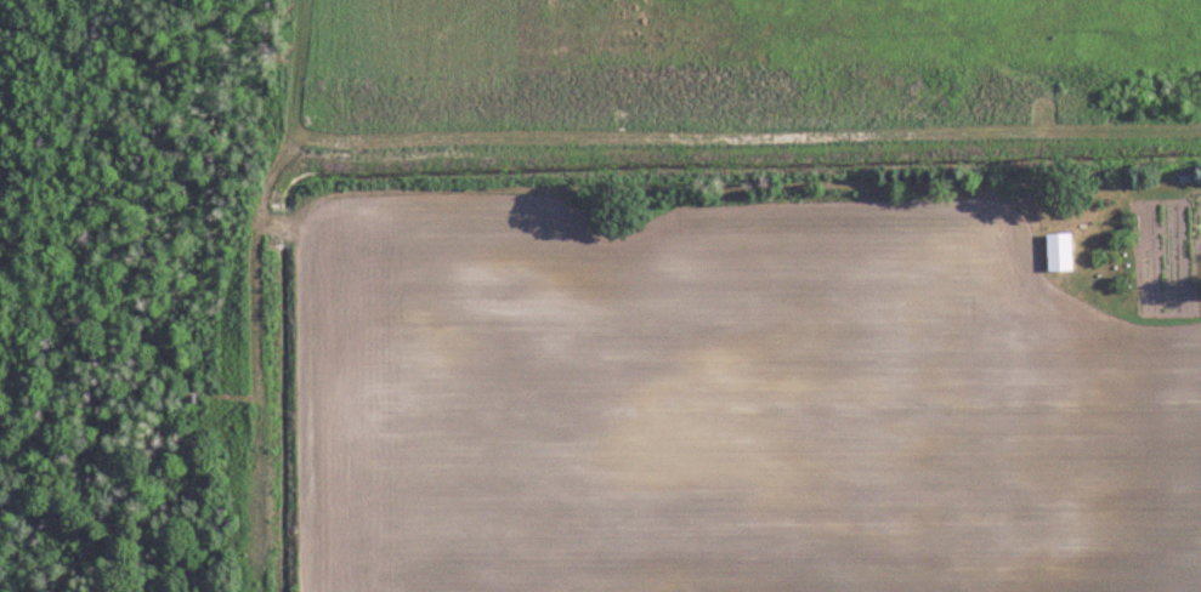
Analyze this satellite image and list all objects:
building: (1059, 254)

